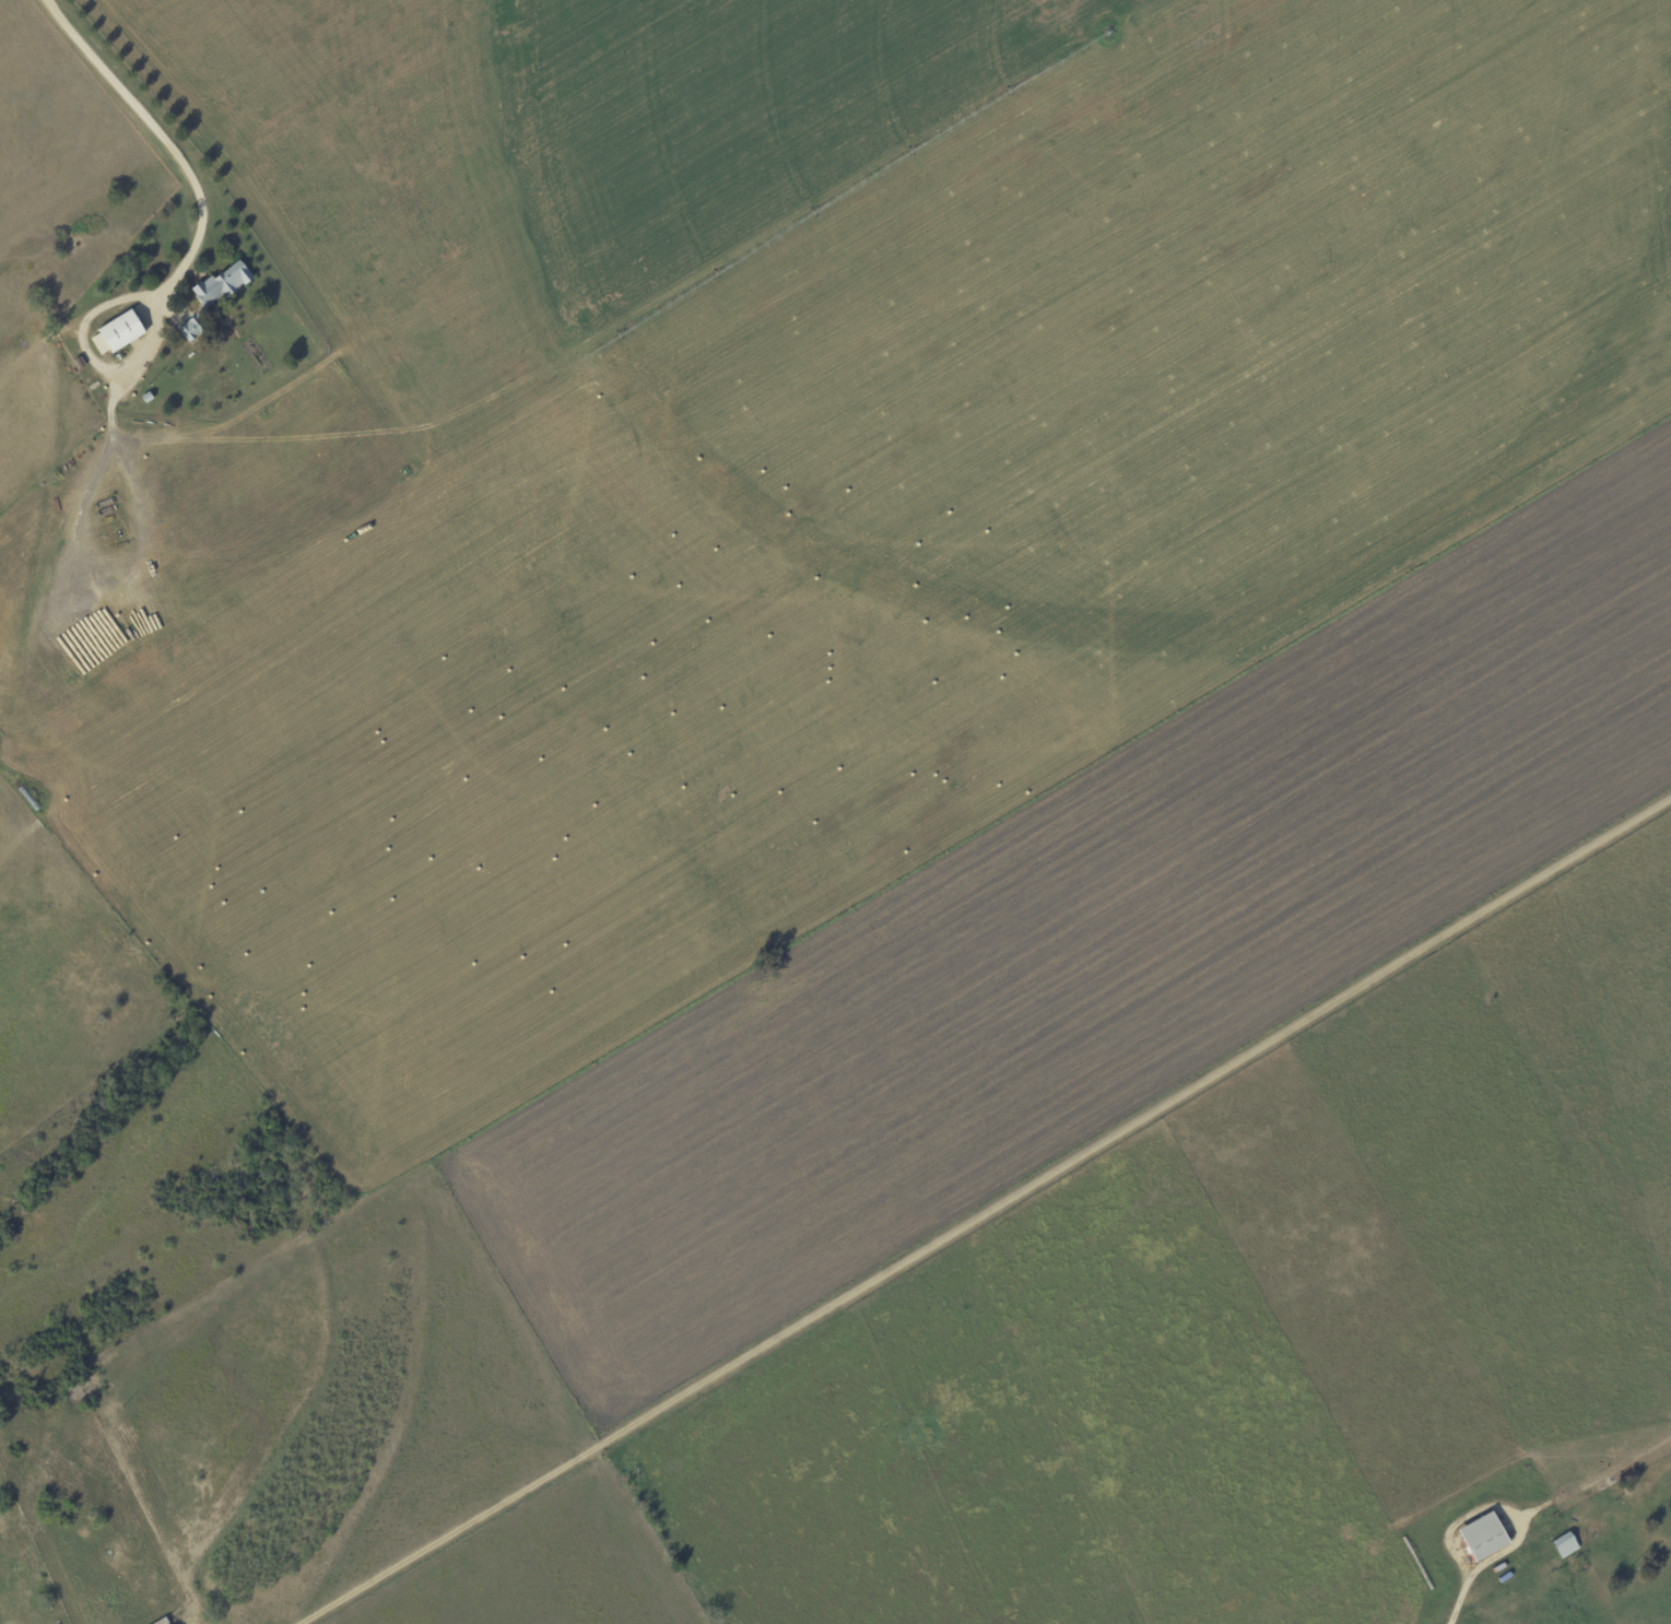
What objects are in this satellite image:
road: (160, 140)
building: (120, 334)
road: (89, 358)
road: (989, 1212)
building: (1476, 1537)
building: (1561, 1545)

